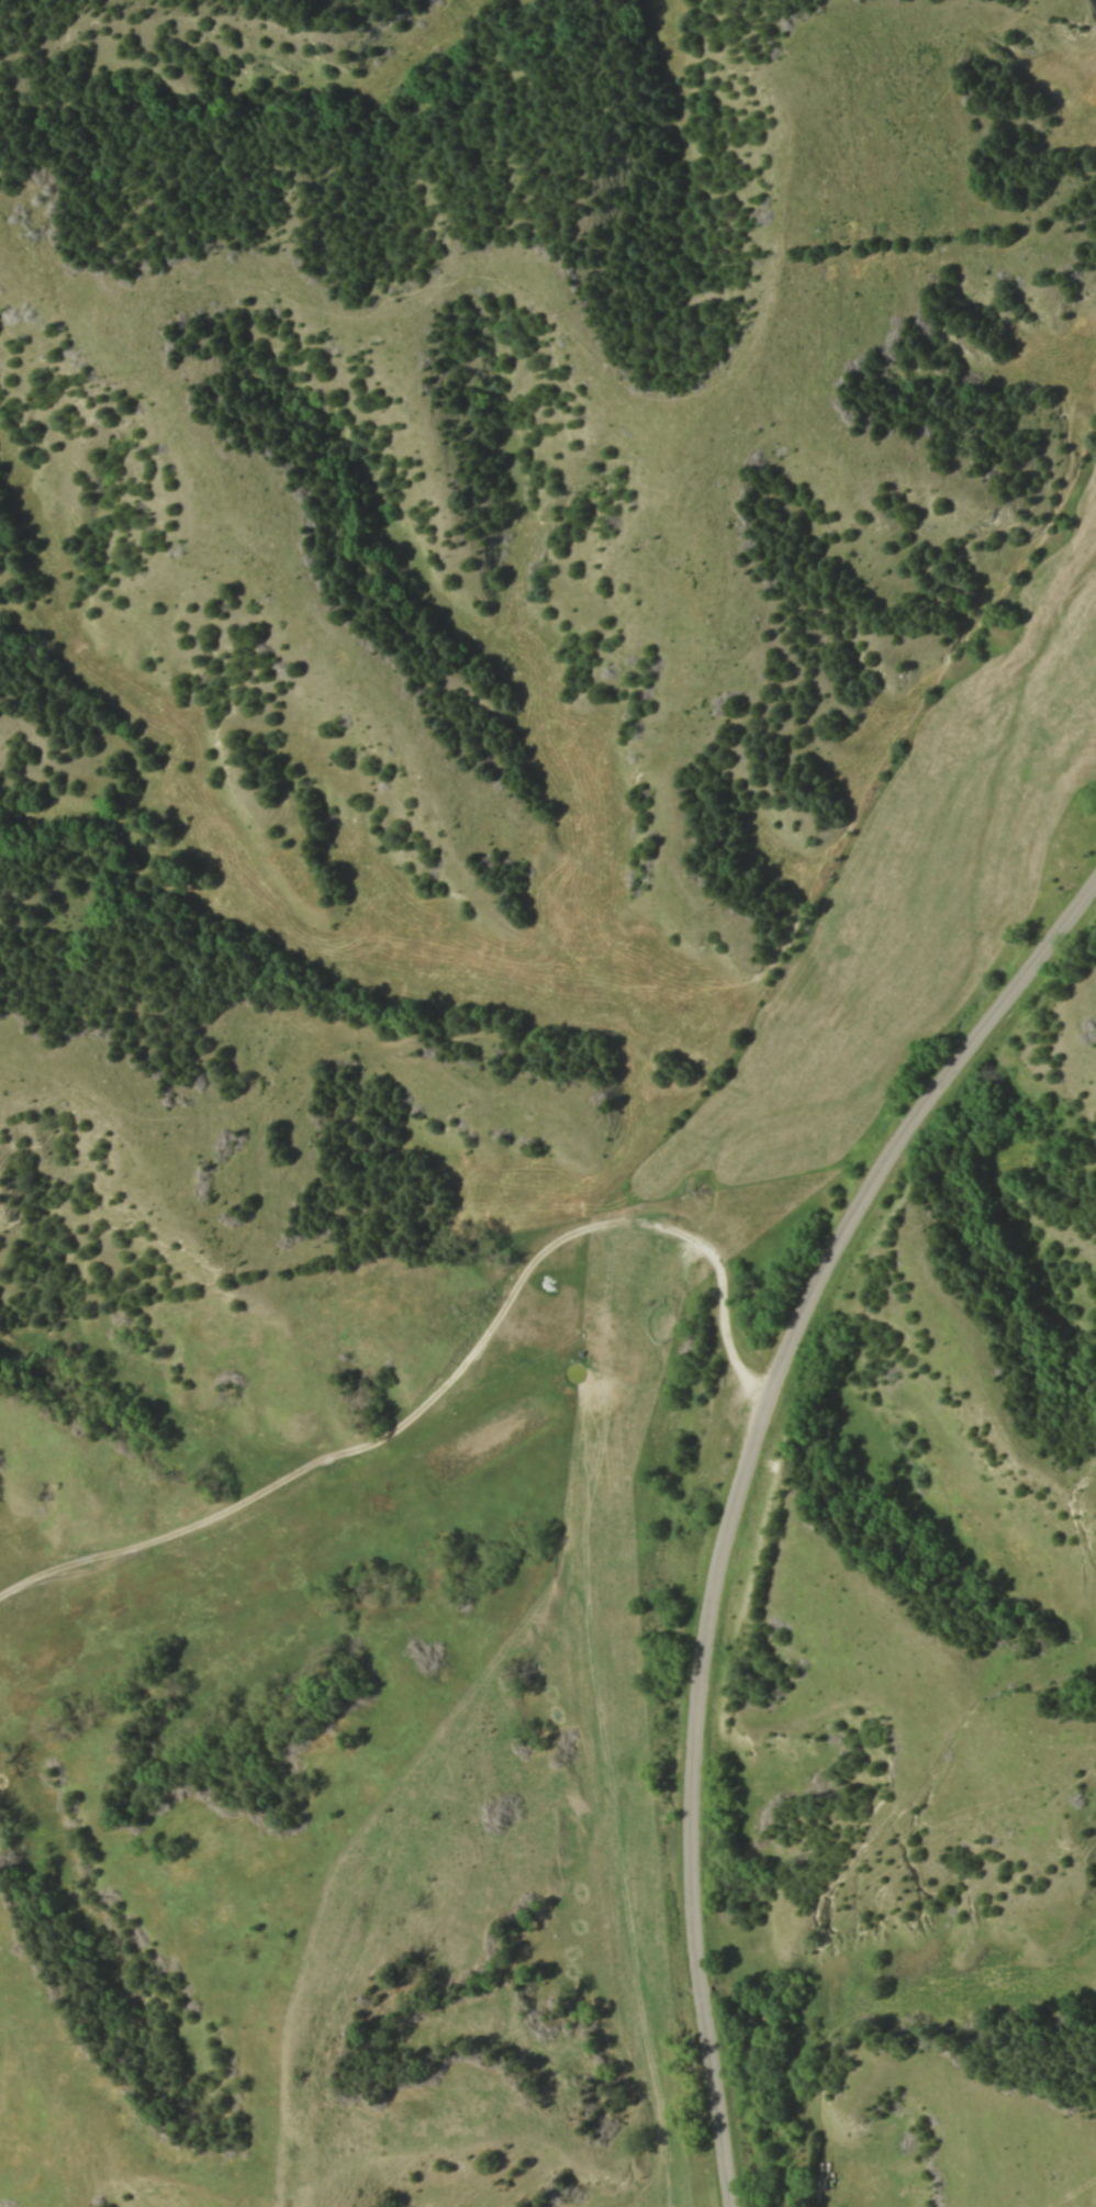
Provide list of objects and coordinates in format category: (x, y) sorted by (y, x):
road: (445, 1376)
road: (736, 1493)

